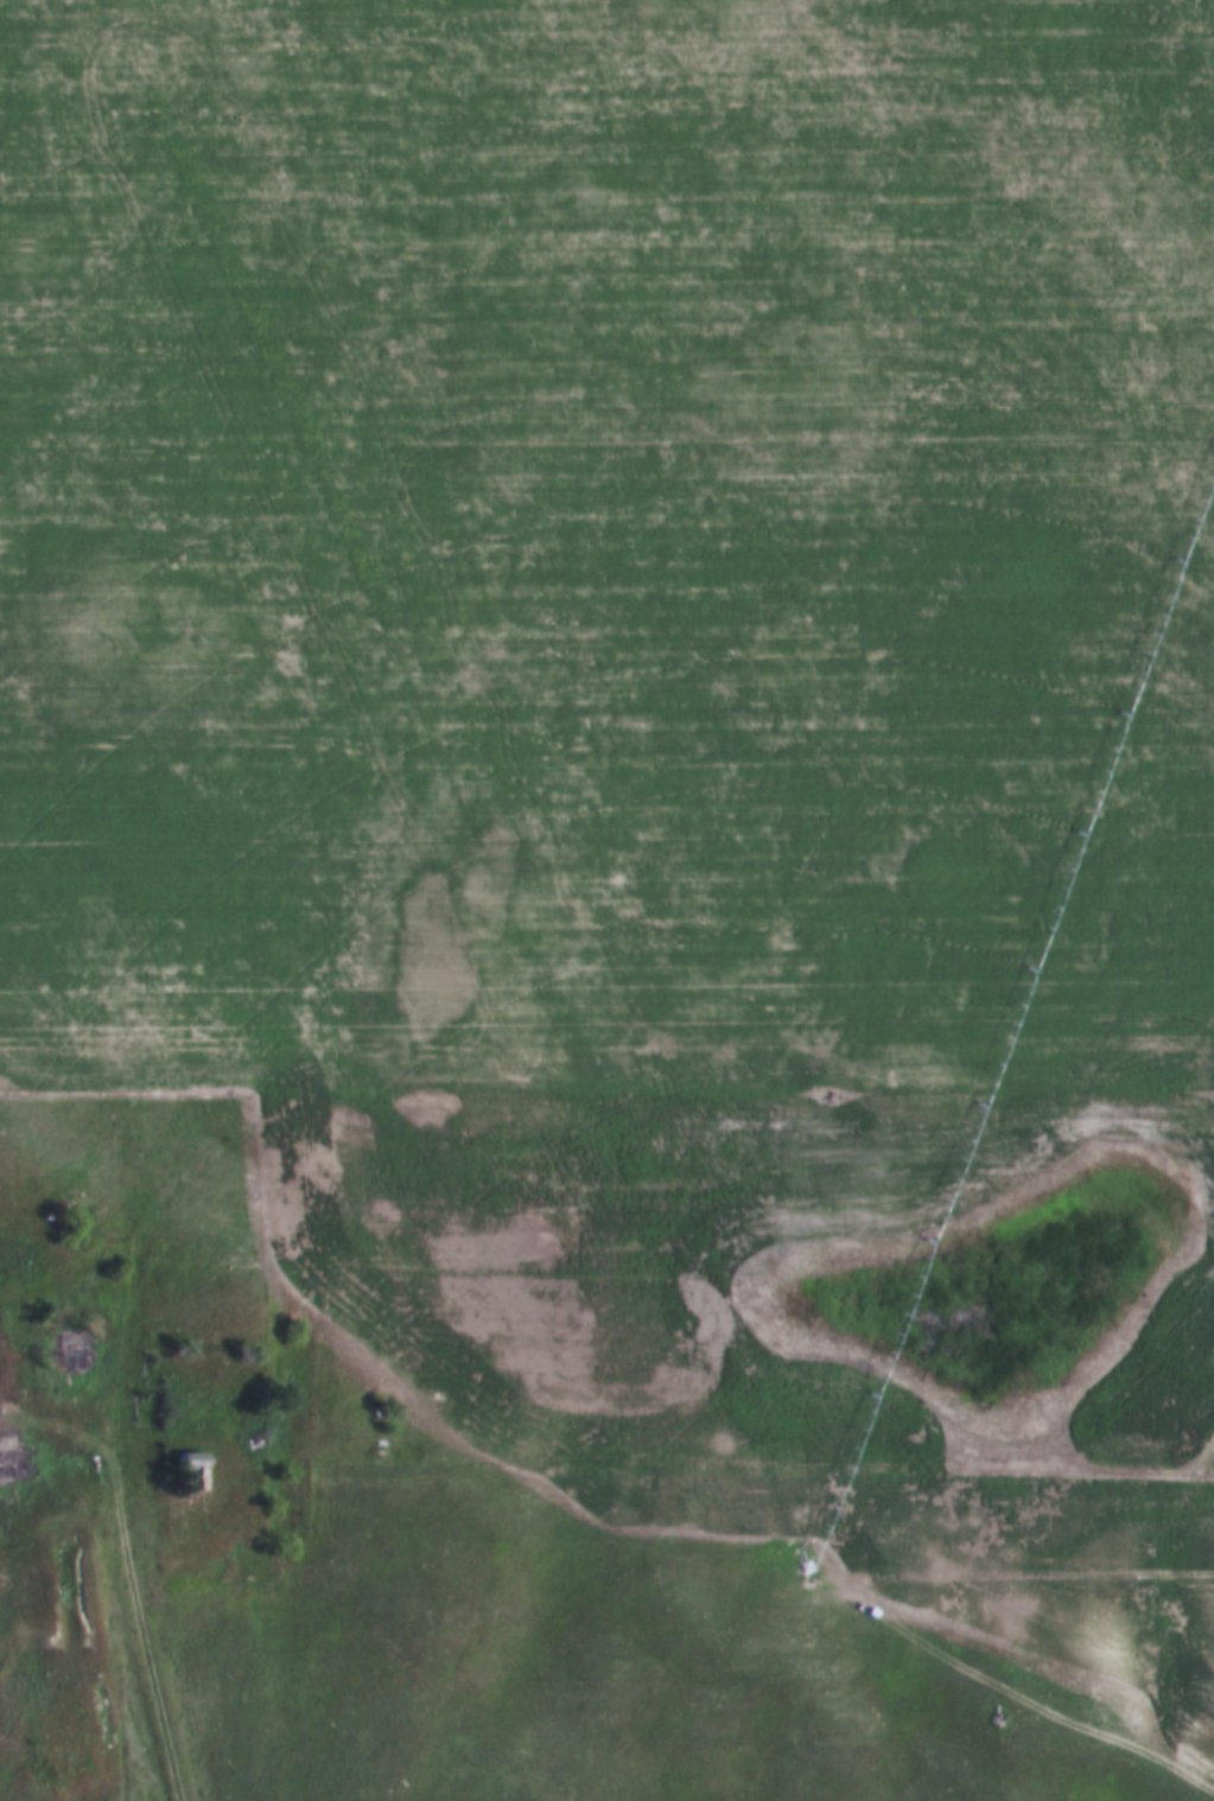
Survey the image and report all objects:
building: (75, 1354)
building: (5, 1455)
building: (189, 1468)
road: (151, 1652)

